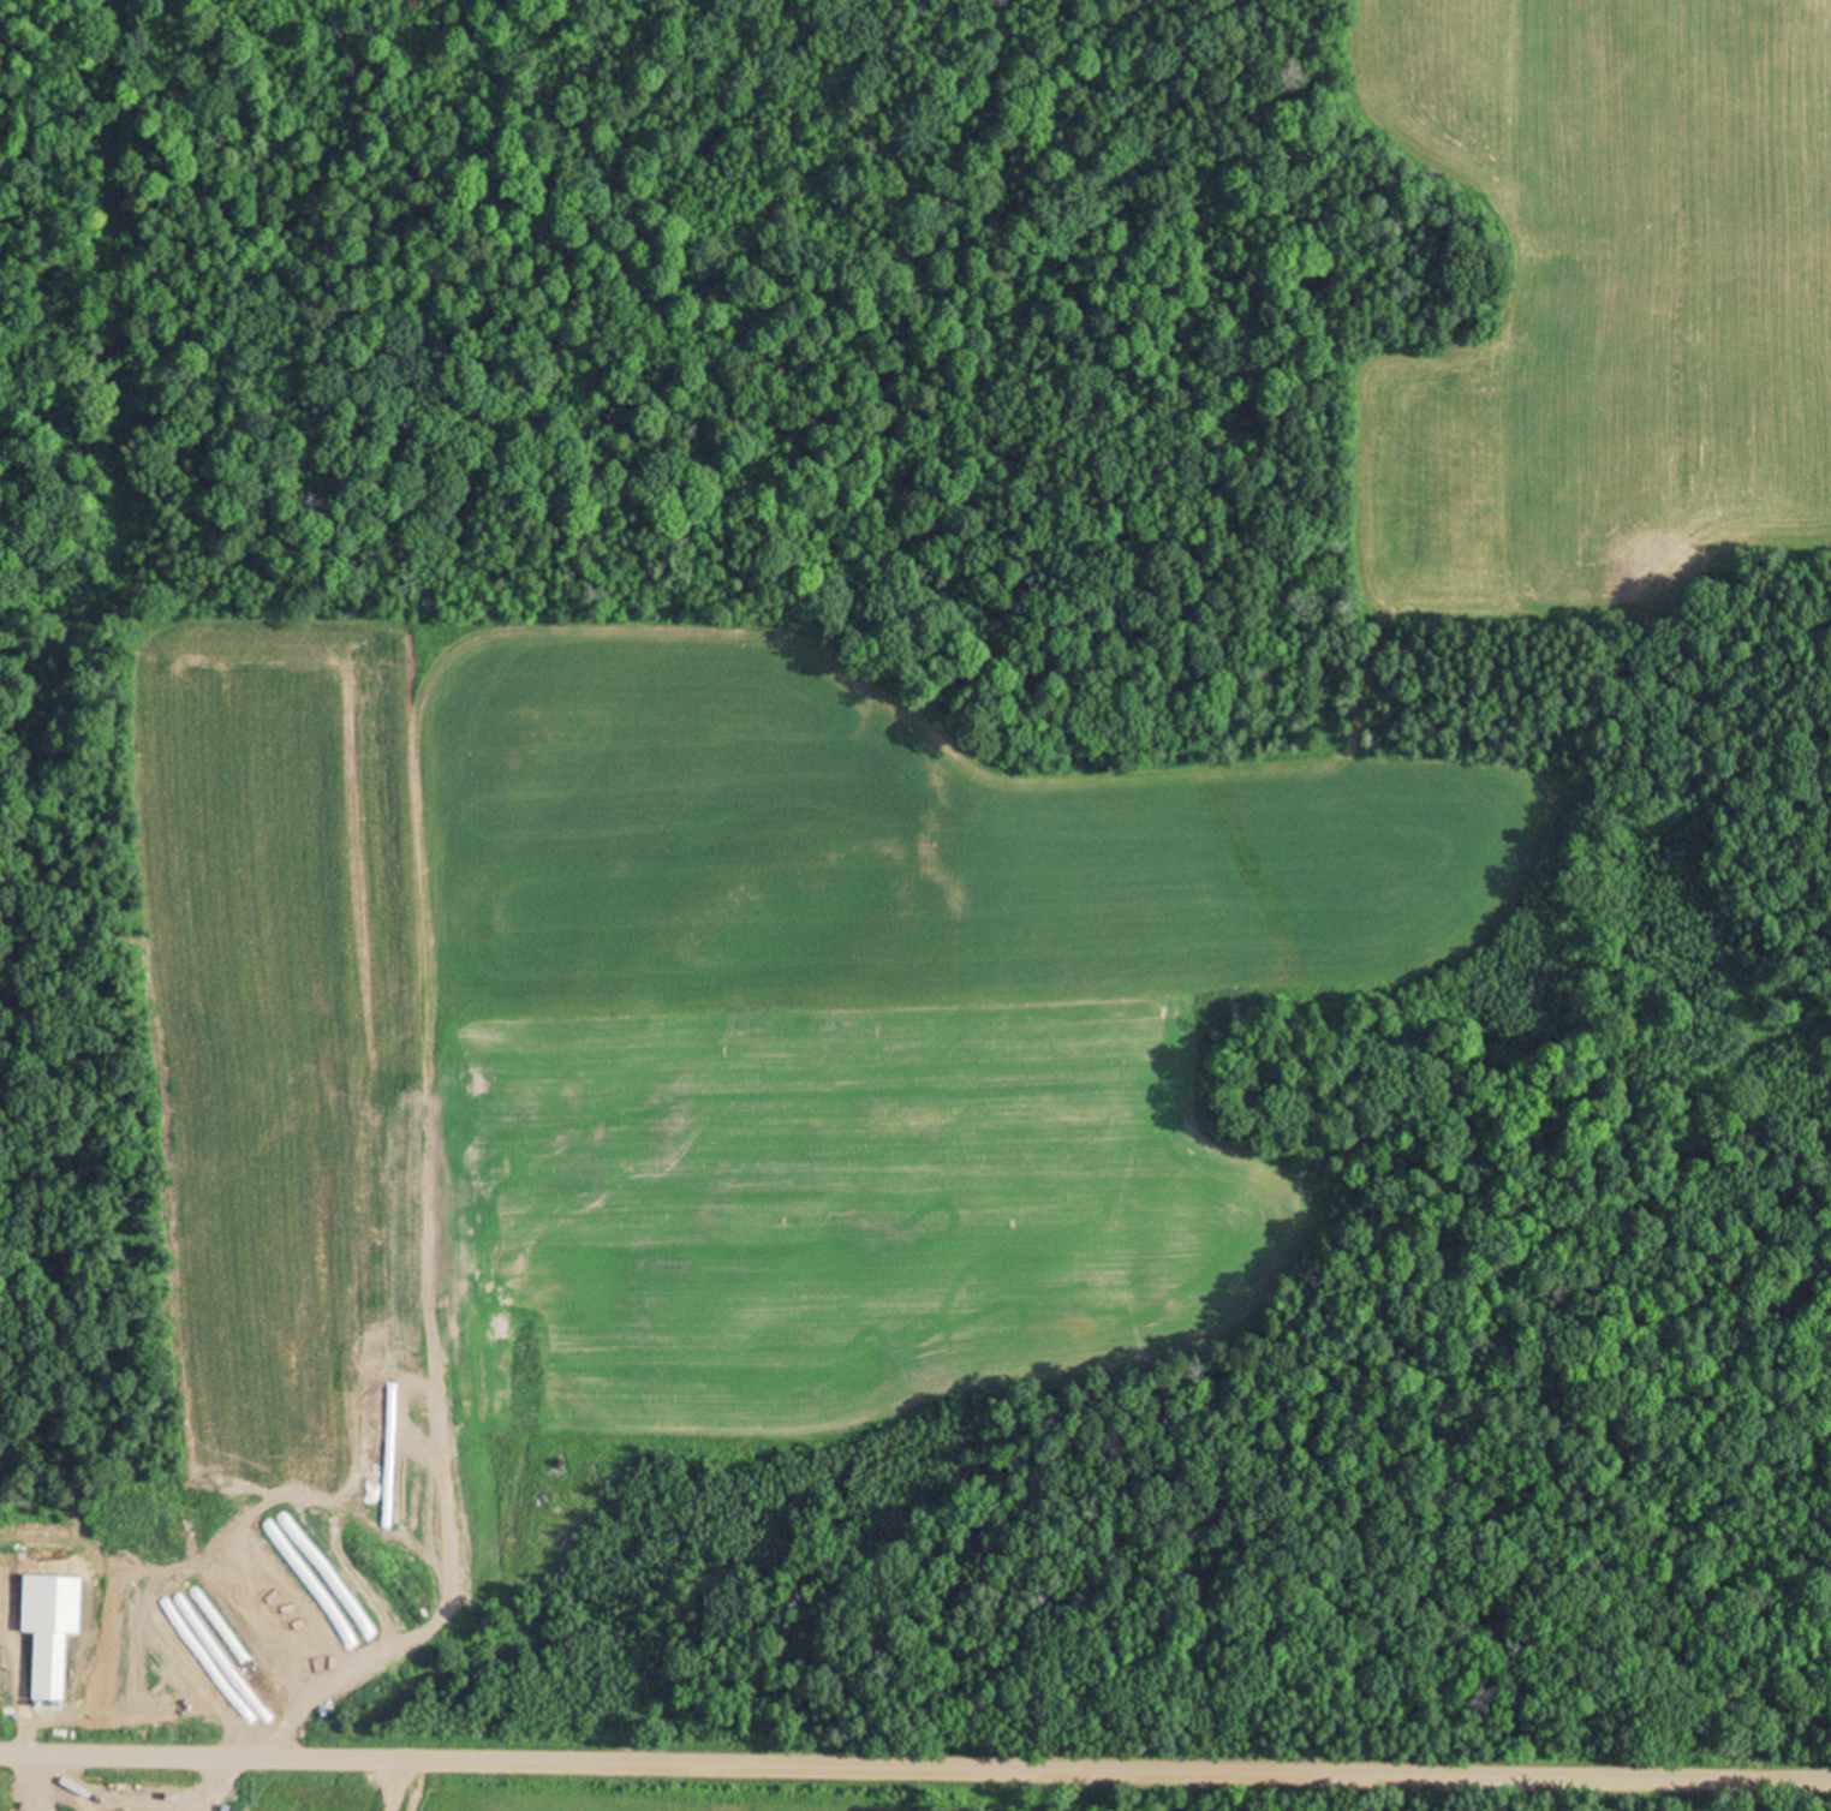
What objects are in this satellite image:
road: (914, 1770)

